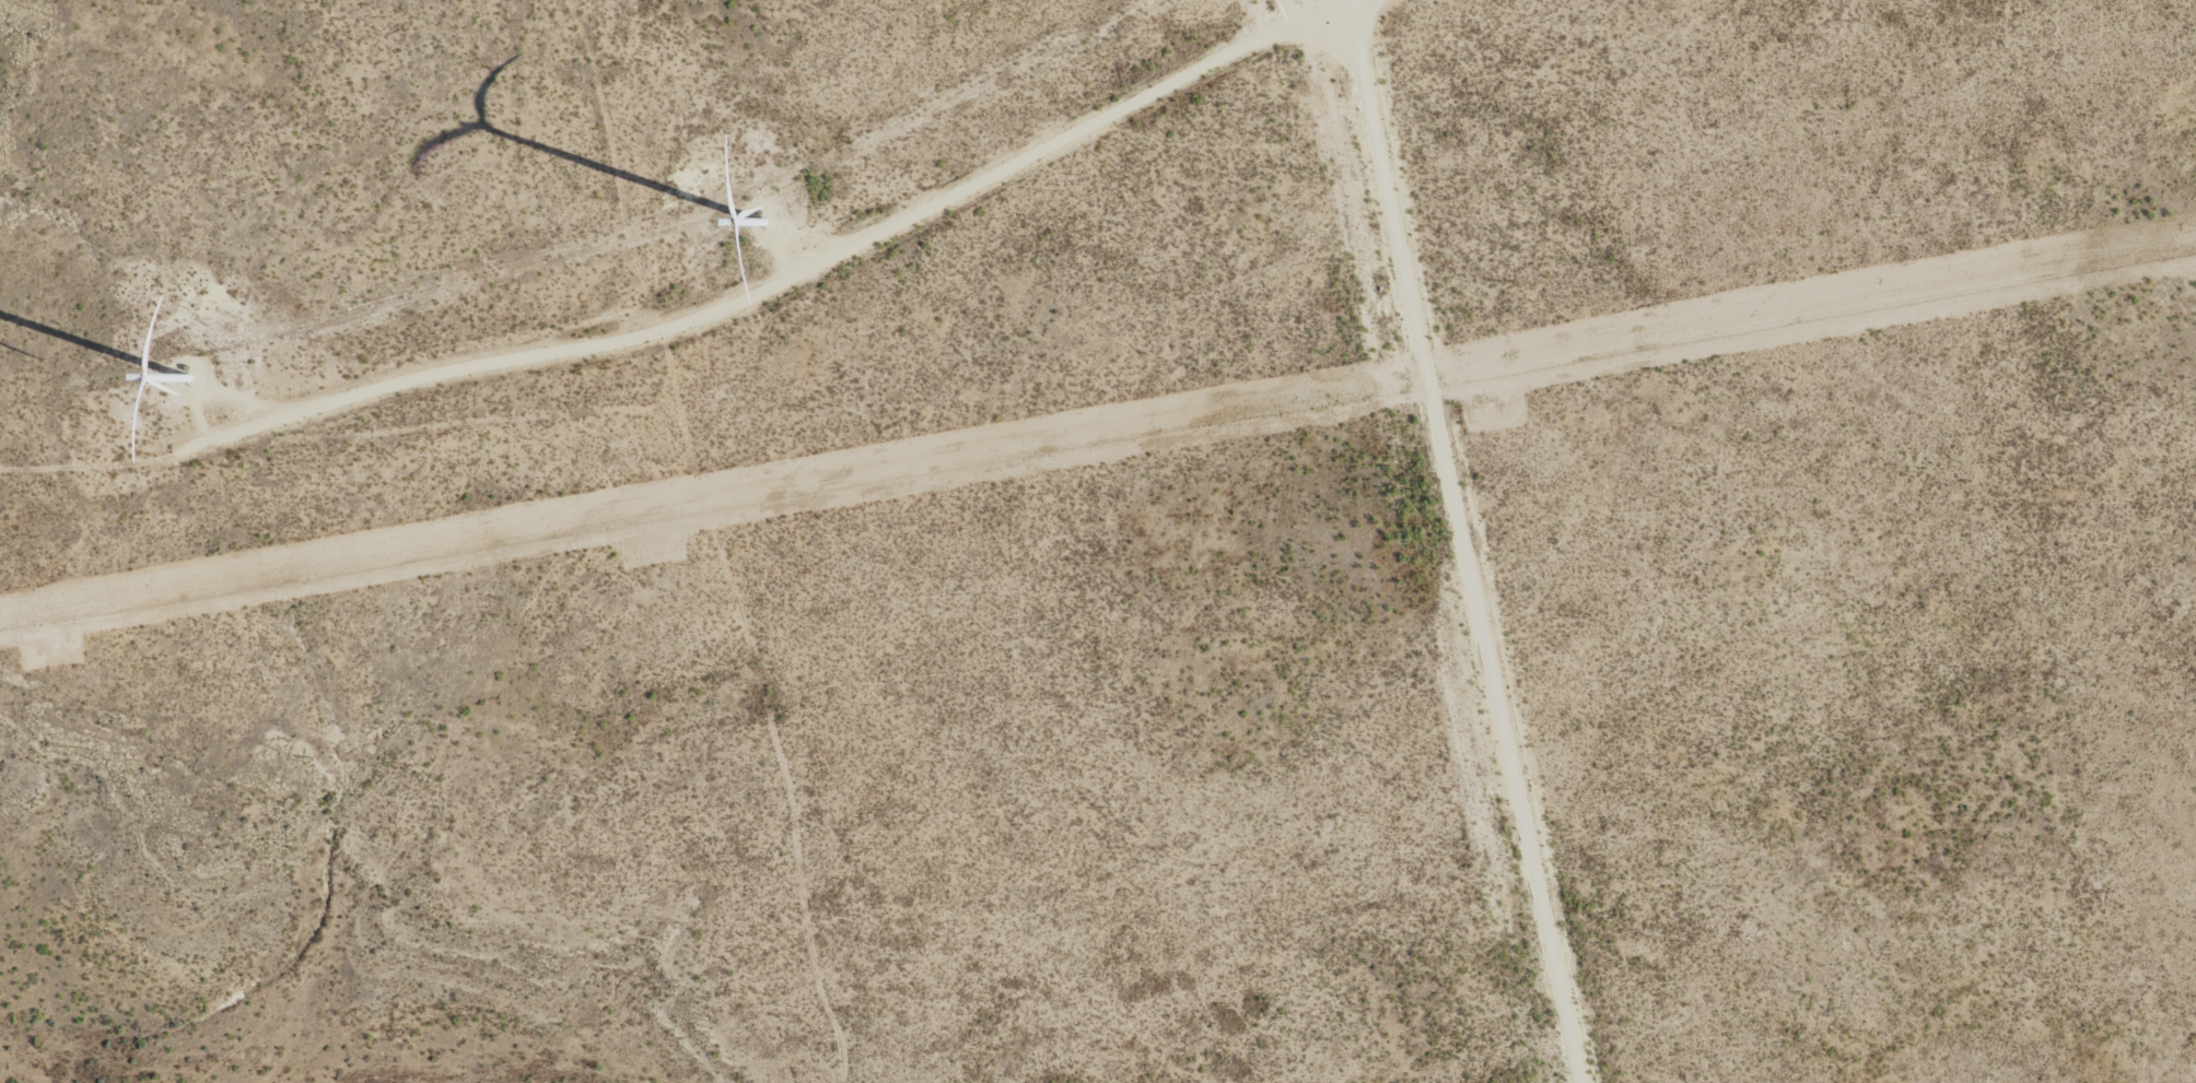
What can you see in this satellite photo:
wind turbine: (734, 220)
wind turbine: (174, 375)
road: (2188, 1080)

